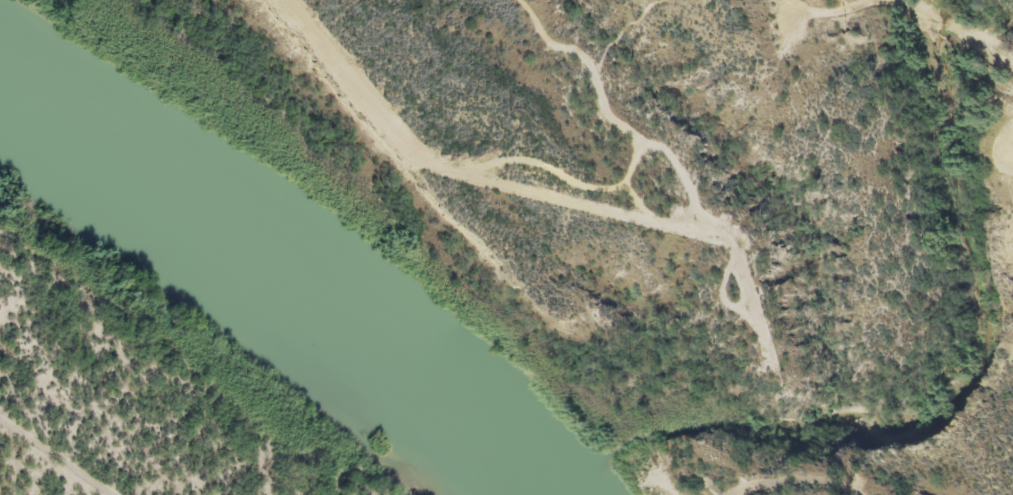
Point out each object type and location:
river: (269, 282)

